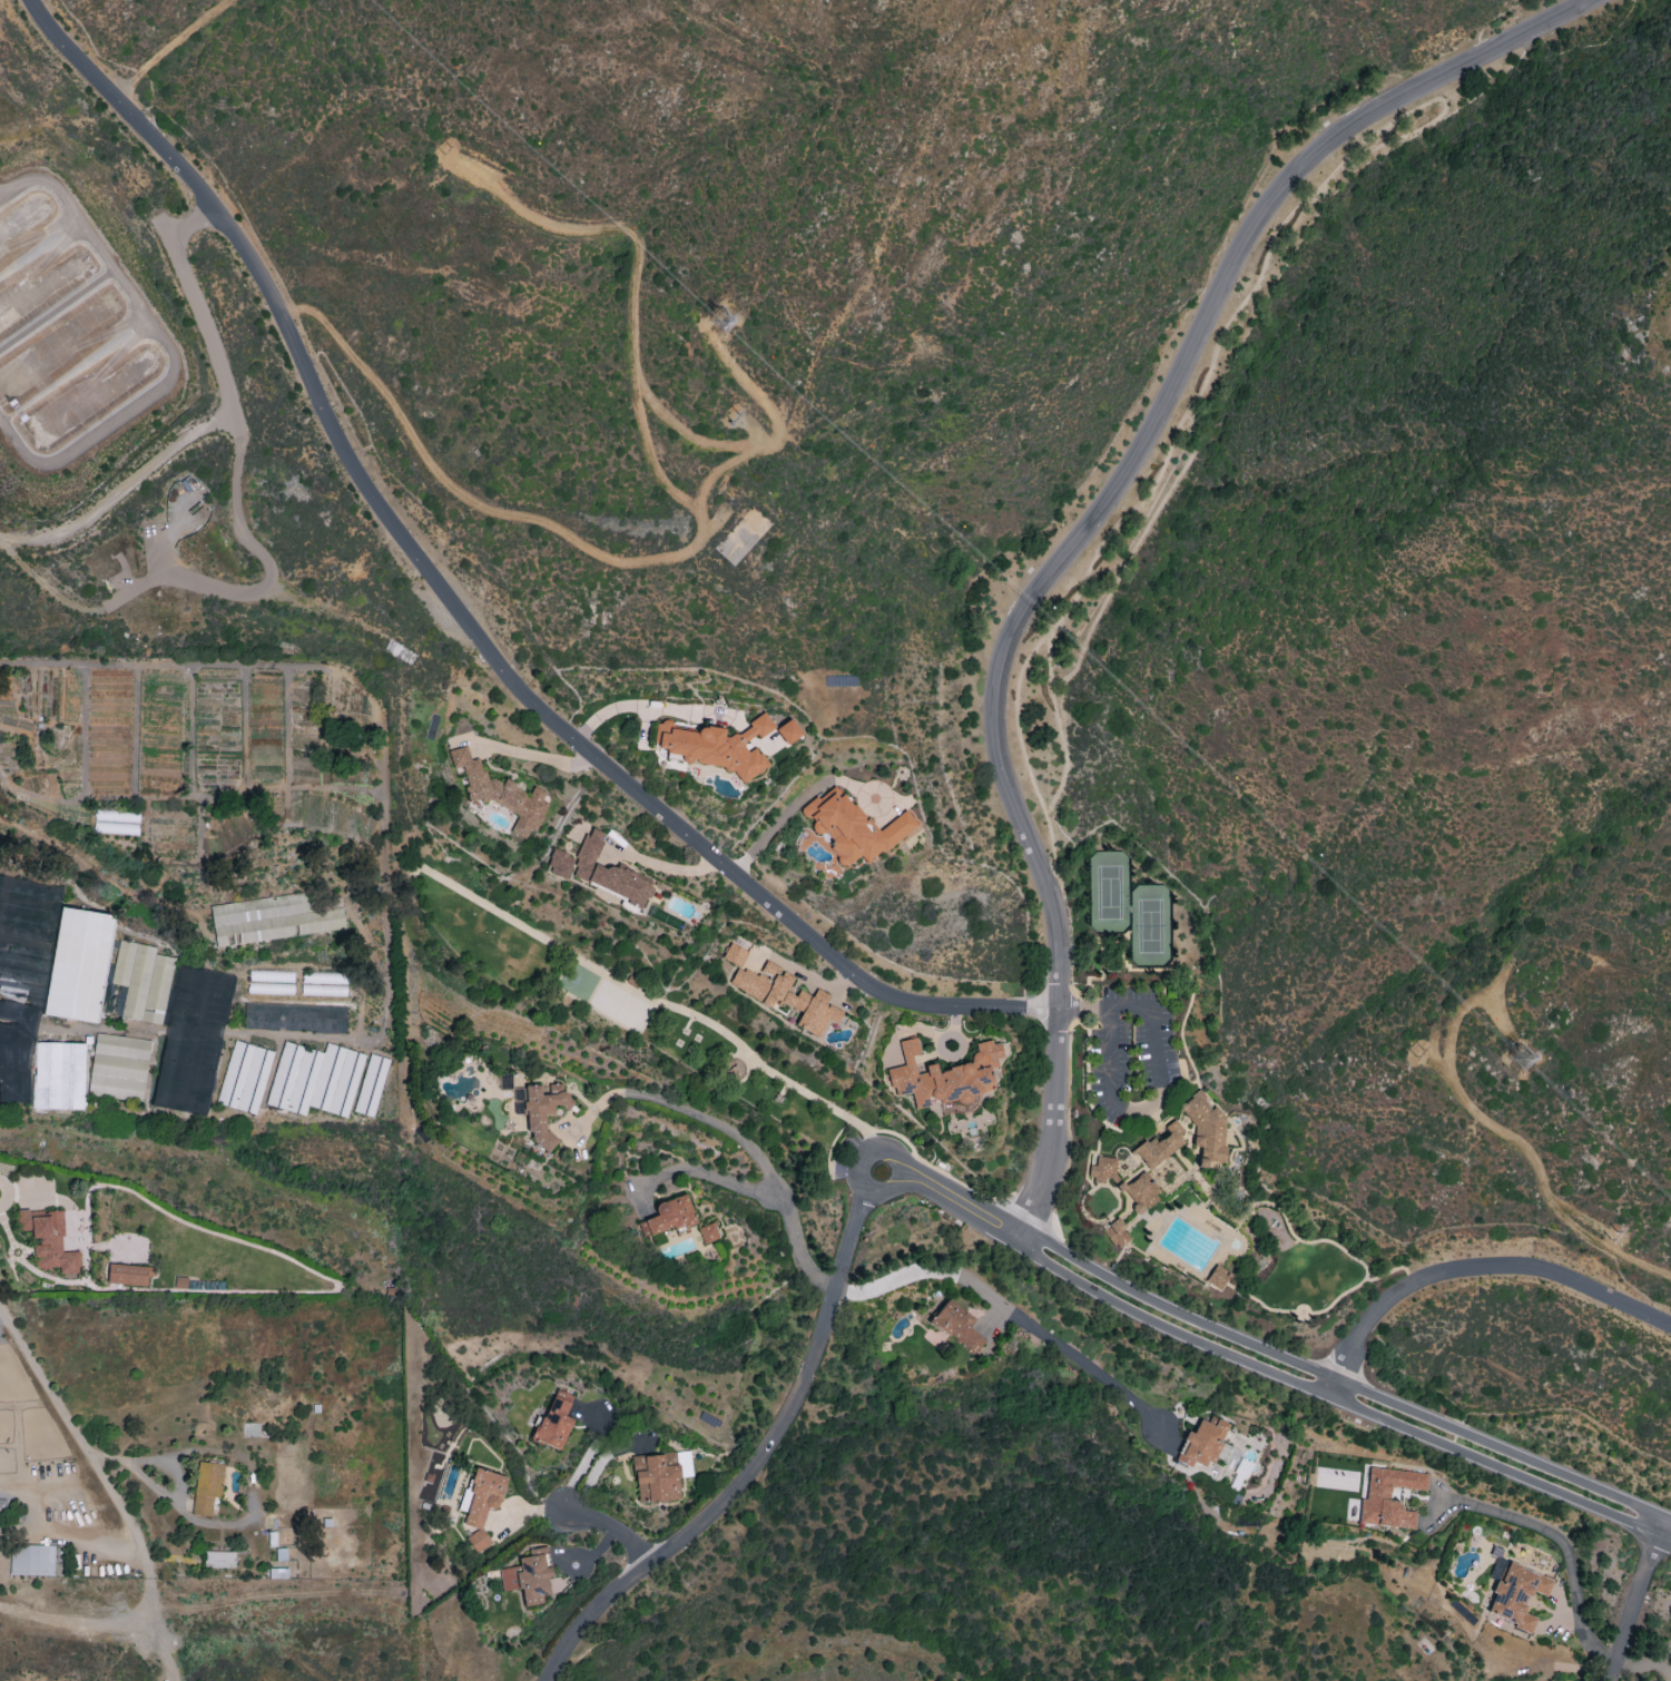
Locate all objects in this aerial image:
road: (158, 46)
road: (60, 51)
power tower: (443, 153)
power tower: (729, 328)
power tower: (735, 416)
road: (774, 417)
road: (216, 420)
road: (1129, 462)
road: (696, 541)
road: (269, 576)
road: (494, 655)
road: (635, 705)
building: (788, 731)
building: (770, 743)
building: (717, 746)
road: (527, 754)
building: (499, 793)
road: (776, 820)
building: (853, 827)
building: (559, 863)
road: (660, 866)
building: (607, 872)
road: (384, 873)
building: (275, 917)
building: (734, 954)
building: (78, 965)
building: (142, 981)
building: (271, 982)
building: (785, 995)
building: (18, 1052)
power tower: (1419, 1053)
power tower: (1524, 1063)
building: (118, 1066)
building: (59, 1075)
building: (244, 1077)
building: (945, 1078)
building: (315, 1079)
road: (1159, 1082)
building: (371, 1084)
building: (543, 1111)
road: (689, 1111)
road: (1501, 1129)
building: (1206, 1130)
building: (1160, 1146)
road: (897, 1164)
road: (1049, 1164)
building: (1103, 1169)
road: (759, 1190)
building: (1139, 1191)
road: (960, 1203)
building: (667, 1216)
building: (708, 1232)
building: (1115, 1233)
power tower: (1612, 1237)
building: (48, 1240)
road: (1473, 1269)
building: (128, 1275)
building: (1217, 1277)
road: (1006, 1308)
building: (956, 1326)
road: (1341, 1382)
road: (1336, 1402)
building: (554, 1421)
road: (78, 1437)
building: (1201, 1443)
road: (750, 1465)
building: (660, 1475)
building: (206, 1488)
building: (1388, 1497)
building: (2, 1503)
road: (617, 1527)
road: (1562, 1543)
building: (219, 1559)
building: (31, 1560)
building: (278, 1573)
building: (529, 1575)
building: (1516, 1595)
road: (1631, 1596)
road: (82, 1621)
road: (160, 1628)
road: (1642, 1654)
road: (1664, 1661)

